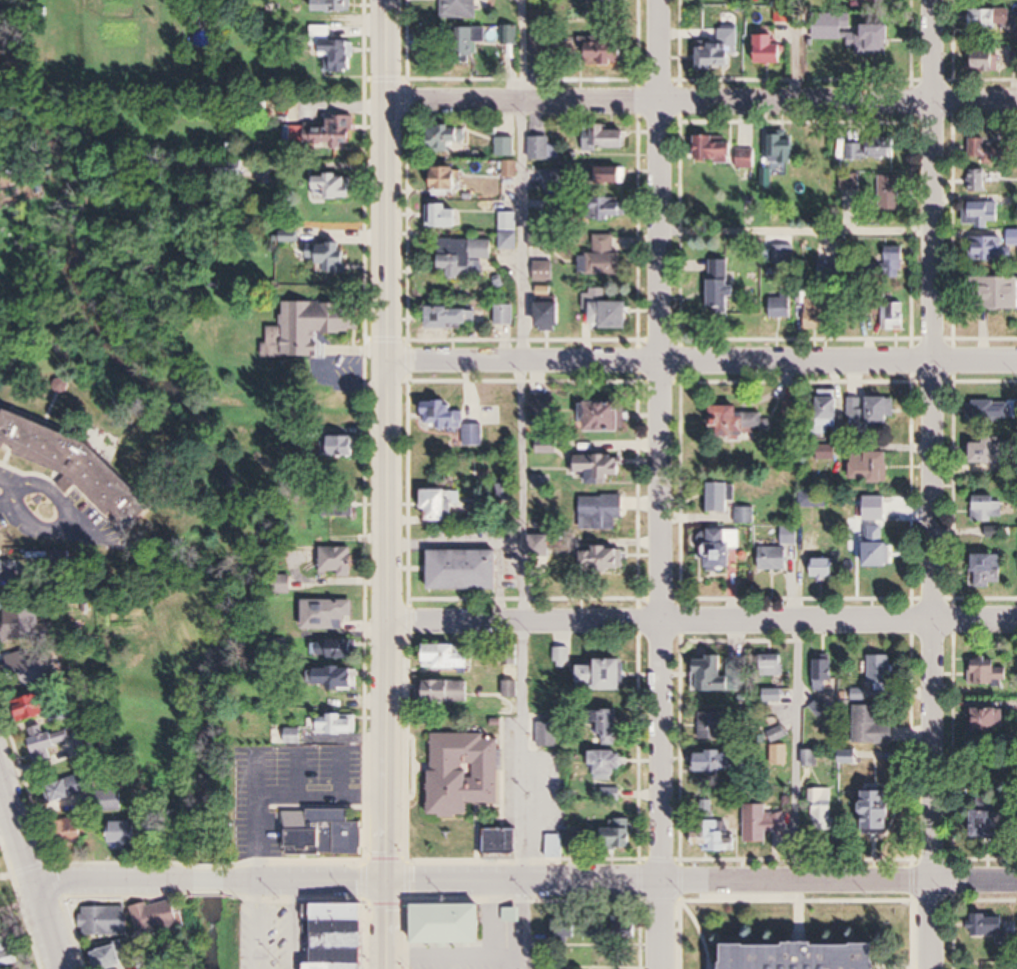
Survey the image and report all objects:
building: (880, 0)
building: (605, 1)
building: (461, 9)
building: (993, 18)
building: (510, 34)
building: (855, 34)
building: (470, 42)
building: (541, 44)
building: (608, 50)
building: (772, 50)
road: (795, 50)
building: (720, 53)
building: (339, 55)
building: (1015, 59)
building: (989, 60)
road: (701, 100)
building: (322, 134)
building: (448, 139)
building: (607, 140)
building: (506, 147)
building: (716, 149)
building: (873, 149)
building: (543, 150)
building: (988, 150)
building: (784, 154)
building: (511, 169)
building: (610, 176)
building: (451, 180)
building: (979, 180)
building: (553, 181)
building: (334, 187)
building: (891, 192)
building: (606, 209)
building: (981, 211)
building: (449, 216)
building: (510, 231)
road: (799, 233)
building: (987, 248)
building: (605, 256)
building: (333, 257)
building: (464, 257)
building: (896, 262)
building: (544, 272)
building: (720, 285)
building: (996, 294)
building: (780, 306)
road: (523, 310)
building: (609, 311)
building: (816, 314)
building: (506, 315)
building: (895, 316)
building: (551, 317)
building: (453, 319)
building: (311, 327)
road: (703, 362)
building: (351, 402)
building: (991, 411)
building: (883, 412)
building: (857, 414)
building: (831, 415)
building: (606, 417)
building: (740, 420)
building: (455, 422)
building: (347, 446)
building: (996, 452)
building: (602, 466)
building: (79, 467)
building: (873, 468)
road: (2, 480)
road: (388, 484)
road: (663, 484)
road: (937, 484)
building: (722, 498)
building: (814, 500)
road: (6, 501)
building: (442, 506)
building: (340, 507)
building: (988, 509)
parking lot: (49, 513)
building: (601, 514)
building: (746, 516)
road: (67, 522)
road: (77, 528)
building: (791, 536)
building: (881, 548)
building: (543, 552)
building: (724, 553)
building: (775, 558)
building: (604, 559)
building: (338, 562)
building: (824, 568)
building: (10, 569)
building: (467, 570)
building: (989, 571)
building: (293, 580)
building: (328, 614)
road: (701, 620)
building: (21, 624)
building: (334, 649)
building: (446, 657)
building: (772, 665)
building: (28, 669)
building: (881, 672)
building: (989, 672)
building: (607, 675)
building: (717, 675)
building: (823, 675)
building: (334, 676)
building: (449, 693)
building: (34, 708)
building: (821, 708)
building: (990, 721)
building: (338, 725)
building: (714, 726)
building: (872, 726)
building: (610, 727)
building: (779, 734)
building: (548, 735)
building: (296, 737)
building: (49, 740)
building: (86, 744)
road: (517, 751)
road: (797, 751)
building: (780, 755)
building: (850, 757)
building: (716, 762)
building: (611, 764)
road: (341, 771)
road: (296, 772)
building: (465, 773)
building: (68, 789)
road: (322, 795)
building: (612, 795)
building: (112, 801)
building: (885, 813)
road: (257, 814)
building: (825, 814)
building: (766, 820)
building: (989, 825)
building: (75, 831)
building: (324, 833)
building: (620, 834)
building: (125, 835)
building: (714, 837)
building: (574, 838)
building: (506, 843)
building: (556, 846)
road: (31, 869)
road: (110, 881)
road: (206, 881)
road: (306, 881)
road: (701, 881)
street lamp: (9, 885)
road: (19, 906)
building: (158, 917)
building: (105, 922)
building: (452, 924)
road: (296, 925)
road: (526, 925)
building: (988, 928)
building: (347, 937)
building: (7, 950)
building: (815, 957)
building: (112, 958)

